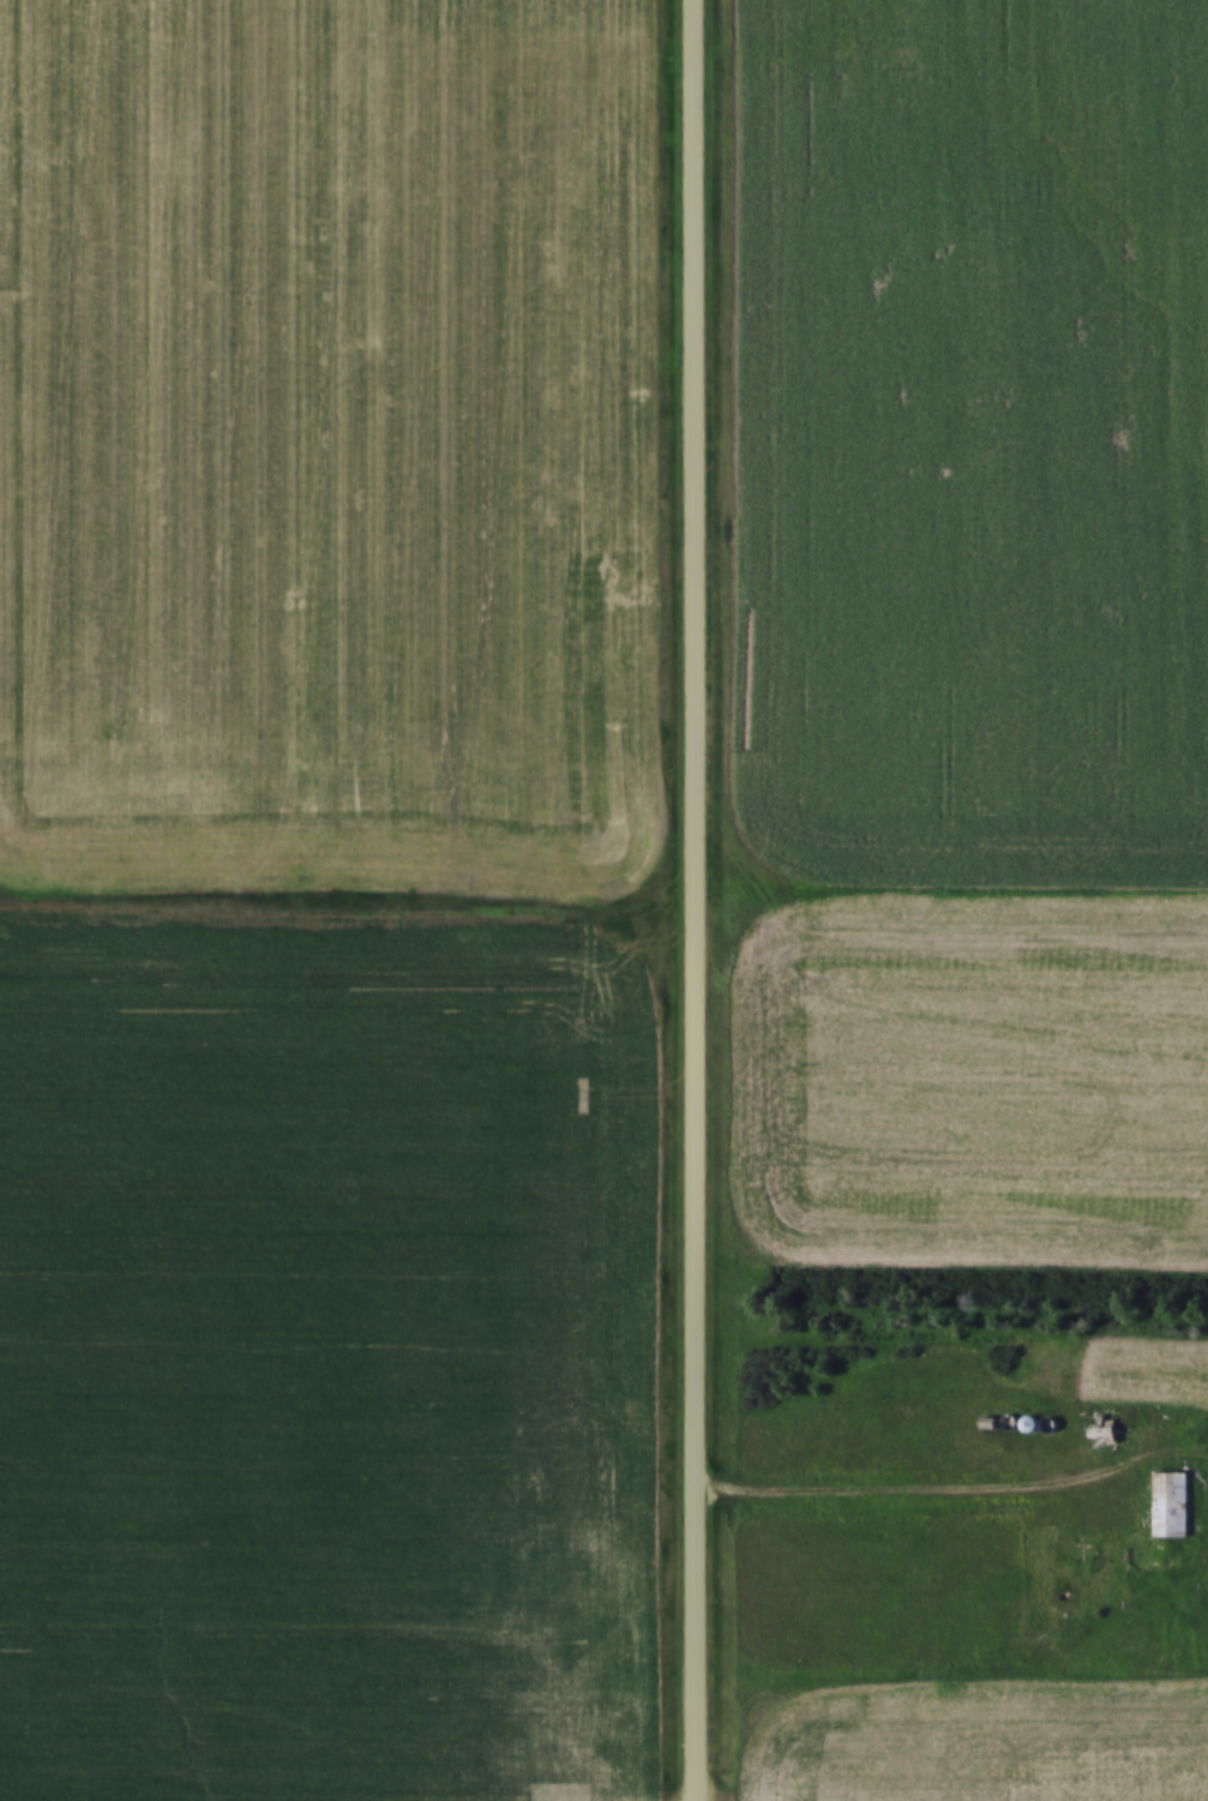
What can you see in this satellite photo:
road: (695, 900)
building: (1006, 1416)
silo: (1006, 1416)
building: (986, 1418)
building: (1026, 1418)
silo: (1026, 1418)
building: (1046, 1419)
silo: (1046, 1419)
building: (1099, 1429)
building: (1167, 1499)

